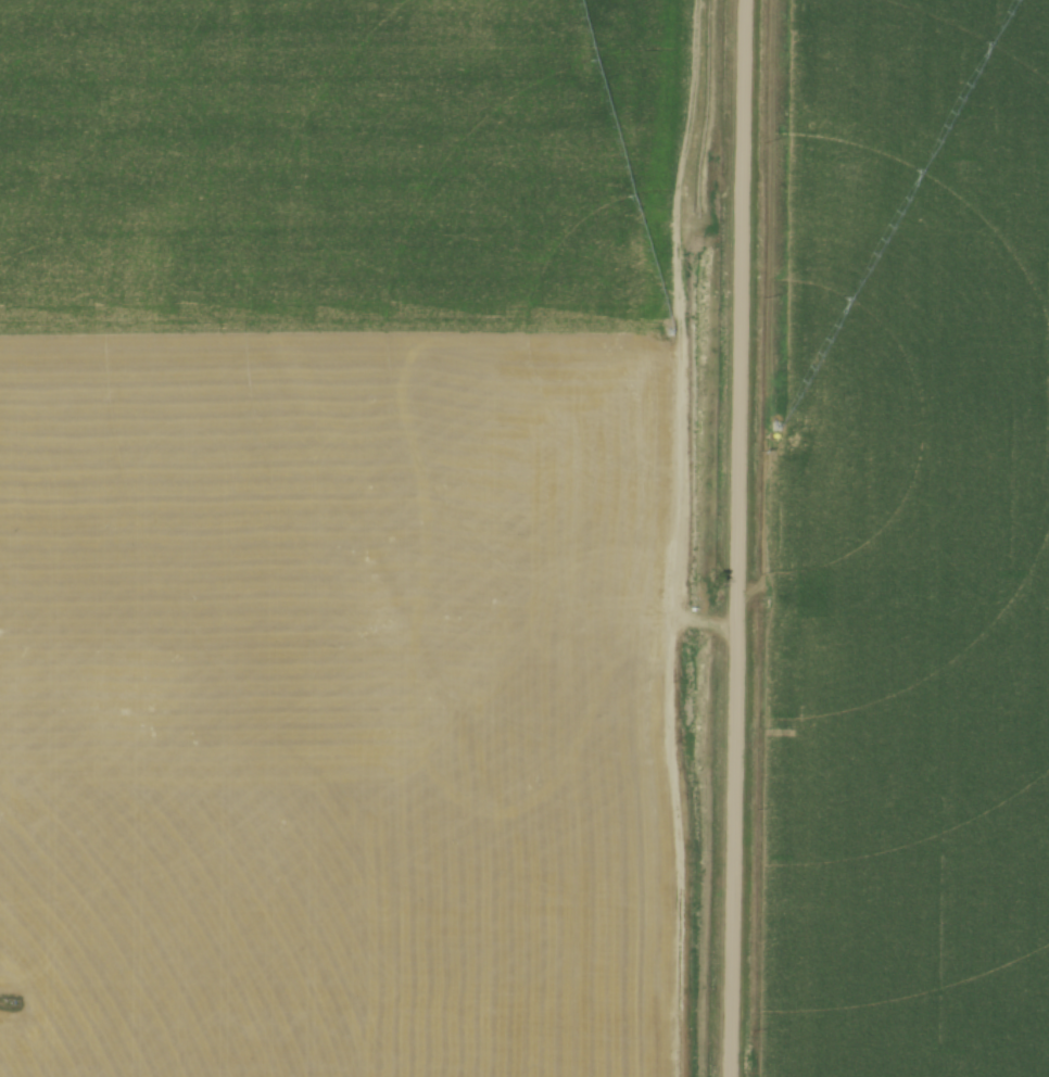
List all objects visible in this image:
road: (738, 538)

